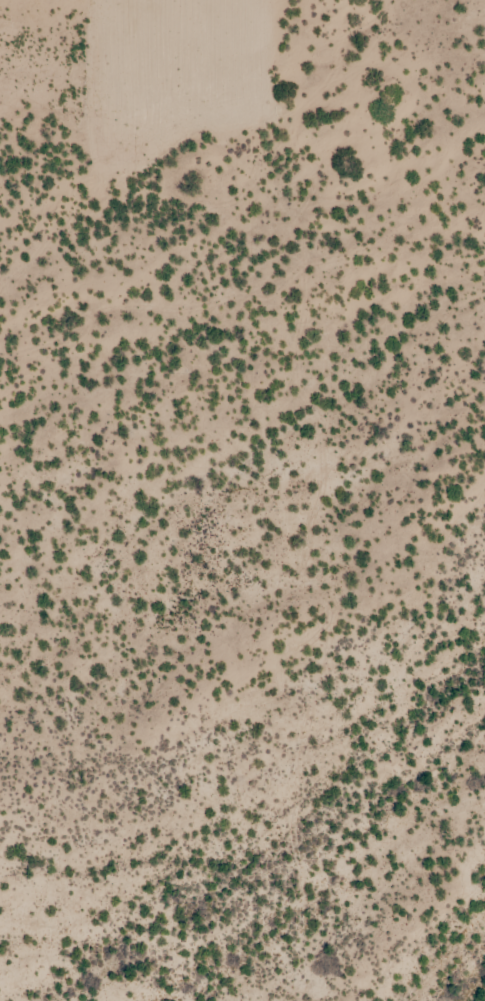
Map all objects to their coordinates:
road: (262, 61)

